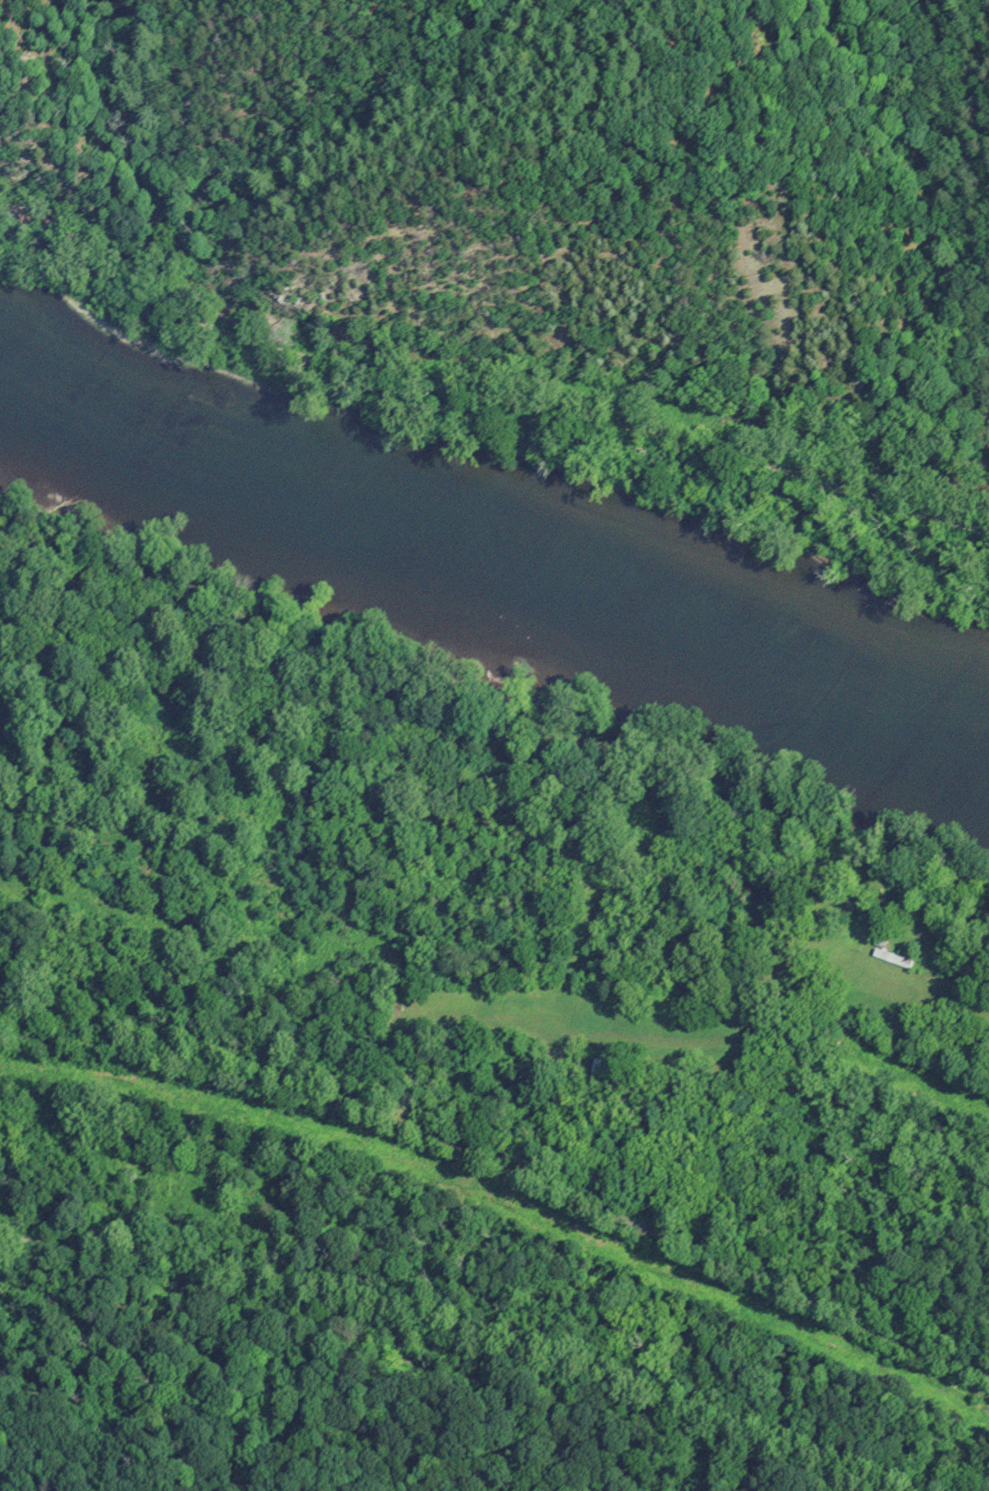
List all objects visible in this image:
road: (488, 398)
river: (284, 489)
river: (785, 660)
building: (892, 958)
building: (602, 1068)
road: (507, 1169)
road: (44, 1400)
road: (44, 1412)
road: (324, 1432)

